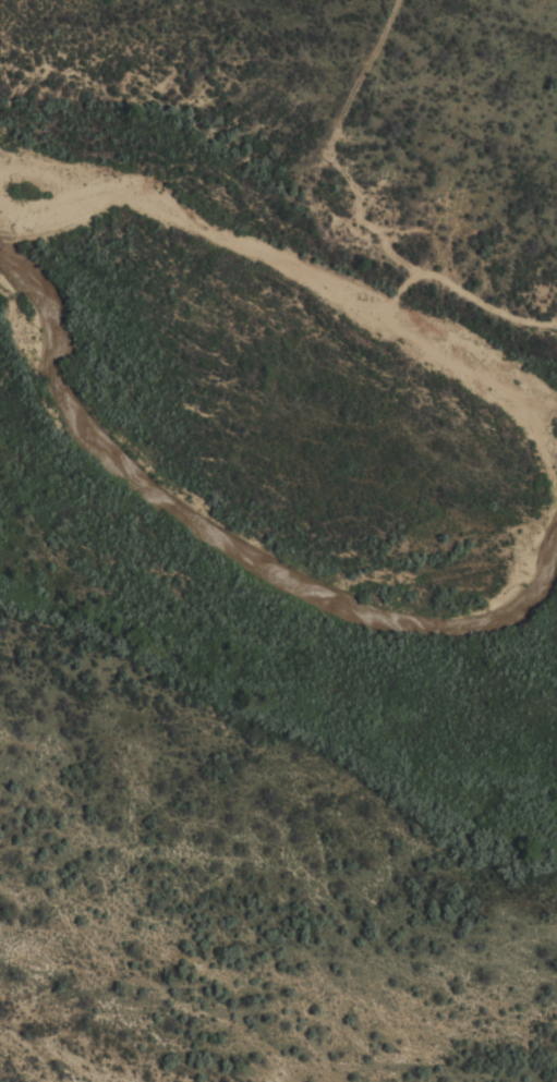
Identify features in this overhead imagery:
river: (295, 287)

